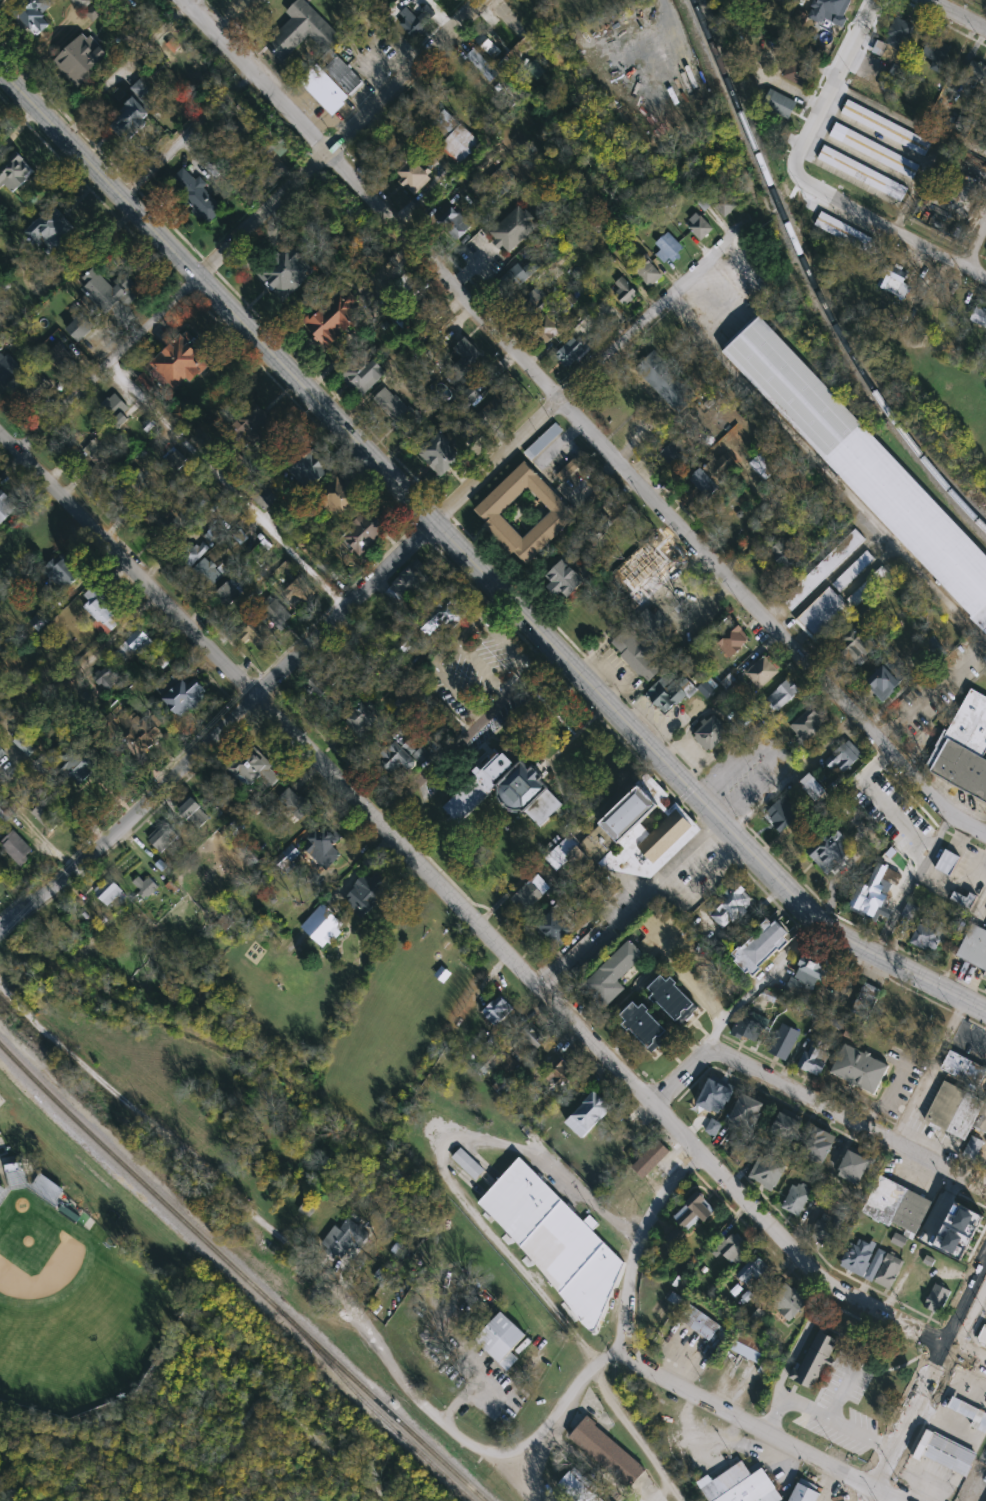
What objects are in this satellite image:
building: (779, 0)
building: (787, 0)
road: (191, 1)
building: (827, 11)
building: (36, 14)
road: (956, 15)
building: (416, 19)
building: (303, 32)
road: (519, 32)
building: (897, 43)
building: (488, 44)
building: (935, 54)
building: (82, 59)
building: (483, 65)
building: (343, 73)
building: (798, 73)
building: (976, 74)
building: (890, 79)
road: (830, 88)
building: (325, 89)
building: (778, 105)
building: (141, 108)
building: (886, 128)
road: (186, 132)
road: (335, 138)
building: (463, 145)
building: (874, 151)
building: (17, 173)
building: (862, 174)
building: (415, 176)
building: (199, 195)
building: (724, 202)
building: (455, 224)
building: (50, 228)
building: (702, 228)
building: (516, 230)
road: (891, 231)
building: (844, 233)
building: (670, 246)
road: (976, 250)
building: (649, 271)
building: (286, 273)
building: (890, 276)
building: (516, 278)
railway: (813, 279)
building: (625, 290)
building: (110, 293)
road: (697, 303)
building: (536, 304)
building: (417, 314)
building: (978, 317)
building: (337, 319)
building: (83, 327)
building: (547, 329)
building: (573, 352)
building: (60, 355)
building: (466, 361)
building: (181, 364)
road: (597, 364)
road: (107, 366)
building: (10, 369)
building: (366, 374)
building: (666, 382)
building: (36, 391)
building: (470, 398)
building: (500, 404)
building: (117, 410)
building: (399, 411)
building: (185, 415)
road: (579, 418)
building: (255, 424)
building: (544, 441)
building: (445, 453)
building: (673, 457)
building: (101, 458)
building: (862, 466)
building: (314, 467)
building: (710, 475)
building: (134, 489)
building: (269, 495)
building: (343, 496)
road: (241, 500)
building: (6, 507)
building: (491, 512)
building: (167, 529)
building: (367, 531)
building: (782, 553)
building: (192, 554)
building: (657, 554)
road: (476, 562)
building: (824, 571)
building: (211, 572)
building: (854, 572)
building: (62, 573)
building: (569, 578)
building: (410, 582)
building: (868, 587)
building: (234, 594)
building: (300, 595)
road: (491, 602)
building: (102, 608)
building: (444, 615)
building: (823, 616)
building: (274, 617)
building: (256, 634)
building: (730, 637)
road: (455, 639)
road: (506, 640)
building: (367, 645)
building: (646, 645)
building: (134, 646)
building: (404, 646)
building: (853, 648)
road: (544, 656)
road: (80, 666)
road: (478, 667)
building: (761, 673)
building: (108, 678)
building: (884, 680)
building: (322, 683)
road: (454, 690)
building: (669, 690)
parking lot: (475, 691)
road: (506, 691)
building: (183, 693)
building: (783, 695)
building: (365, 718)
building: (808, 727)
building: (143, 732)
building: (712, 733)
road: (223, 734)
building: (28, 744)
road: (769, 748)
building: (964, 748)
building: (406, 753)
building: (843, 757)
building: (77, 761)
parking lot: (750, 767)
road: (428, 768)
building: (250, 769)
building: (504, 787)
building: (810, 787)
building: (866, 788)
building: (296, 802)
building: (194, 812)
building: (898, 813)
building: (781, 815)
building: (49, 816)
building: (918, 834)
building: (163, 838)
building: (624, 844)
building: (19, 846)
building: (326, 846)
building: (832, 852)
building: (947, 863)
park: (3, 882)
building: (147, 887)
building: (374, 891)
building: (110, 892)
building: (871, 895)
building: (528, 897)
building: (965, 900)
road: (627, 903)
building: (730, 907)
road: (475, 925)
building: (558, 927)
road: (681, 935)
building: (928, 935)
building: (974, 946)
building: (757, 947)
building: (609, 974)
building: (806, 974)
road: (756, 983)
building: (668, 1000)
building: (865, 1003)
park: (398, 1009)
building: (499, 1011)
building: (640, 1026)
building: (748, 1026)
building: (531, 1039)
building: (784, 1043)
building: (814, 1059)
railway: (14, 1061)
building: (487, 1062)
road: (930, 1067)
building: (964, 1069)
building: (859, 1070)
building: (561, 1072)
road: (813, 1097)
parking lot: (1, 1098)
building: (714, 1099)
building: (945, 1105)
building: (745, 1113)
building: (589, 1114)
building: (965, 1116)
building: (981, 1121)
building: (783, 1129)
building: (711, 1131)
building: (974, 1146)
building: (819, 1147)
building: (738, 1151)
road: (985, 1155)
building: (649, 1159)
building: (469, 1164)
road: (439, 1166)
building: (852, 1168)
building: (768, 1172)
building: (17, 1176)
building: (49, 1188)
building: (2, 1191)
building: (796, 1199)
building: (898, 1208)
building: (690, 1213)
building: (828, 1230)
building: (956, 1230)
road: (276, 1234)
building: (345, 1238)
building: (556, 1241)
road: (637, 1246)
building: (727, 1248)
building: (858, 1258)
building: (752, 1270)
building: (889, 1271)
railway: (257, 1289)
railway: (242, 1294)
building: (937, 1300)
building: (787, 1302)
building: (698, 1322)
building: (982, 1336)
building: (500, 1337)
road: (797, 1343)
building: (749, 1347)
building: (814, 1361)
road: (678, 1363)
road: (970, 1370)
road: (930, 1374)
road: (970, 1382)
road: (961, 1388)
road: (465, 1389)
road: (969, 1392)
road: (840, 1393)
road: (943, 1397)
road: (978, 1397)
road: (954, 1401)
road: (962, 1406)
road: (559, 1409)
parking lot: (842, 1410)
road: (971, 1411)
road: (824, 1414)
building: (969, 1414)
road: (946, 1416)
road: (954, 1421)
road: (982, 1422)
road: (964, 1425)
road: (947, 1429)
road: (768, 1430)
road: (699, 1434)
road: (634, 1436)
building: (607, 1453)
building: (944, 1453)
parking lot: (983, 1455)
road: (220, 1460)
road: (591, 1466)
road: (836, 1484)
building: (741, 1486)
building: (581, 1487)
road: (929, 1488)
road: (661, 1492)
road: (871, 1492)
building: (801, 1493)

